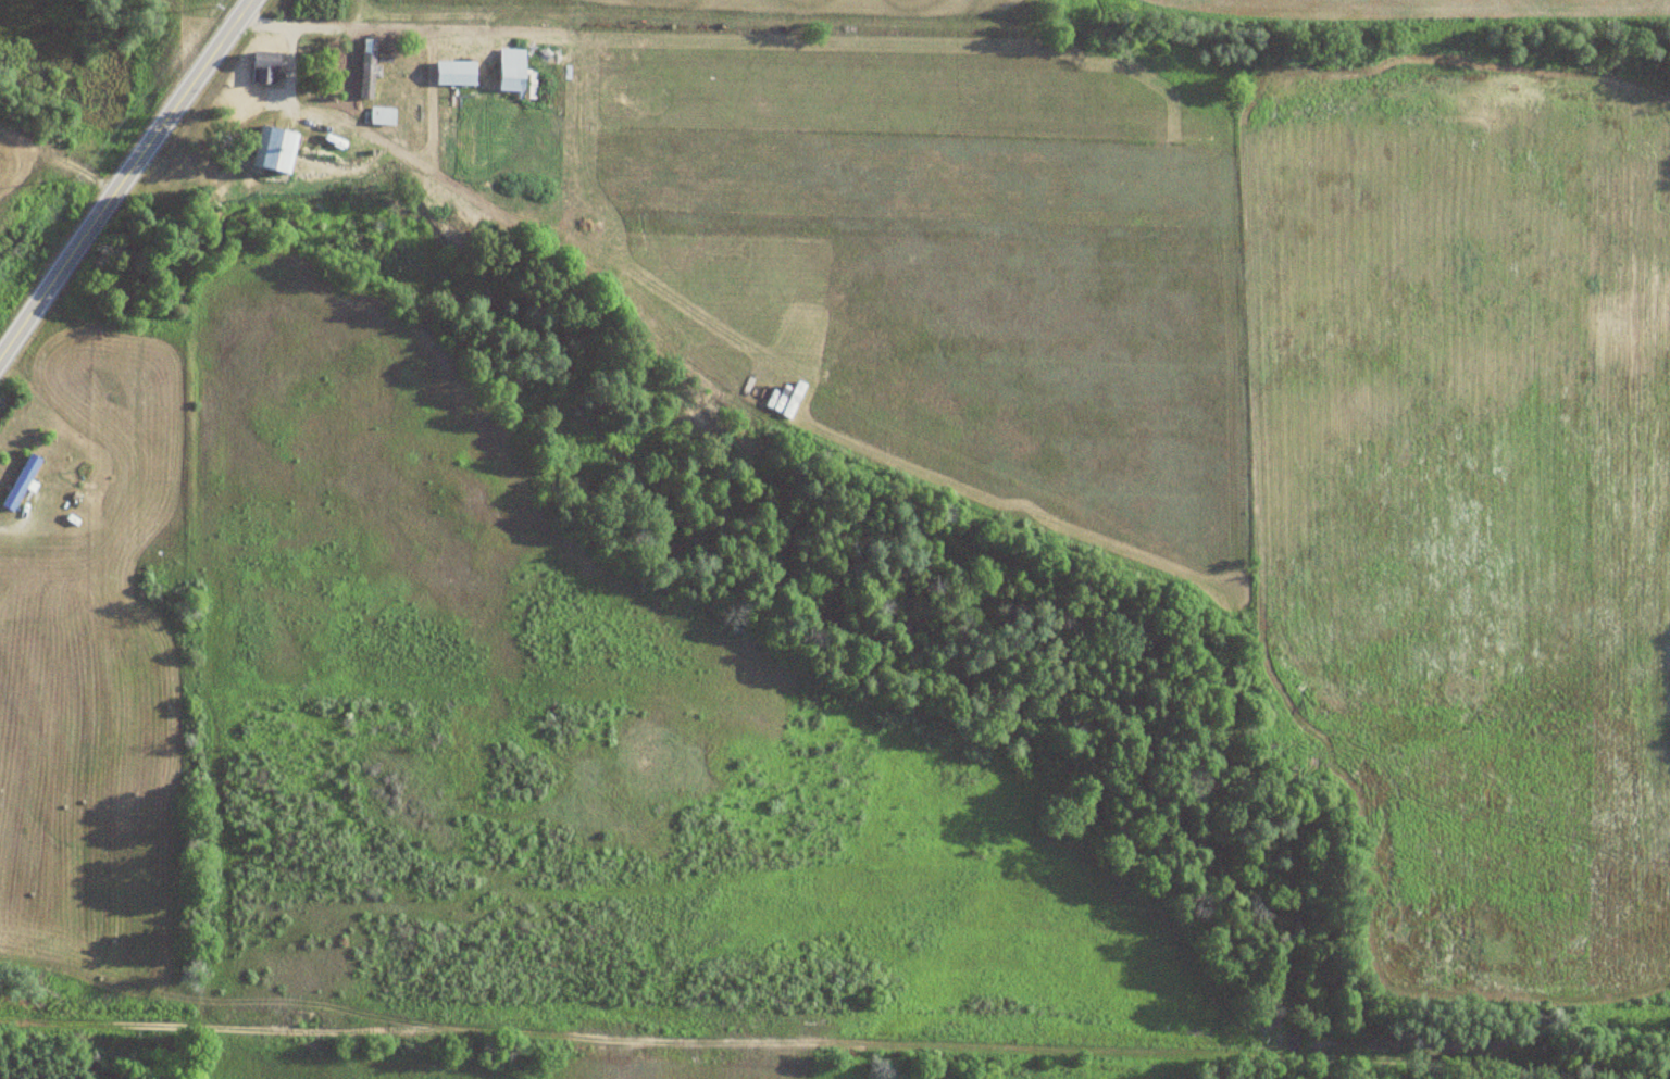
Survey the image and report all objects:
building: (262, 67)
building: (365, 68)
building: (453, 74)
building: (520, 78)
building: (379, 116)
building: (272, 149)
road: (127, 181)
building: (18, 481)
road: (28, 518)
road: (180, 1027)

